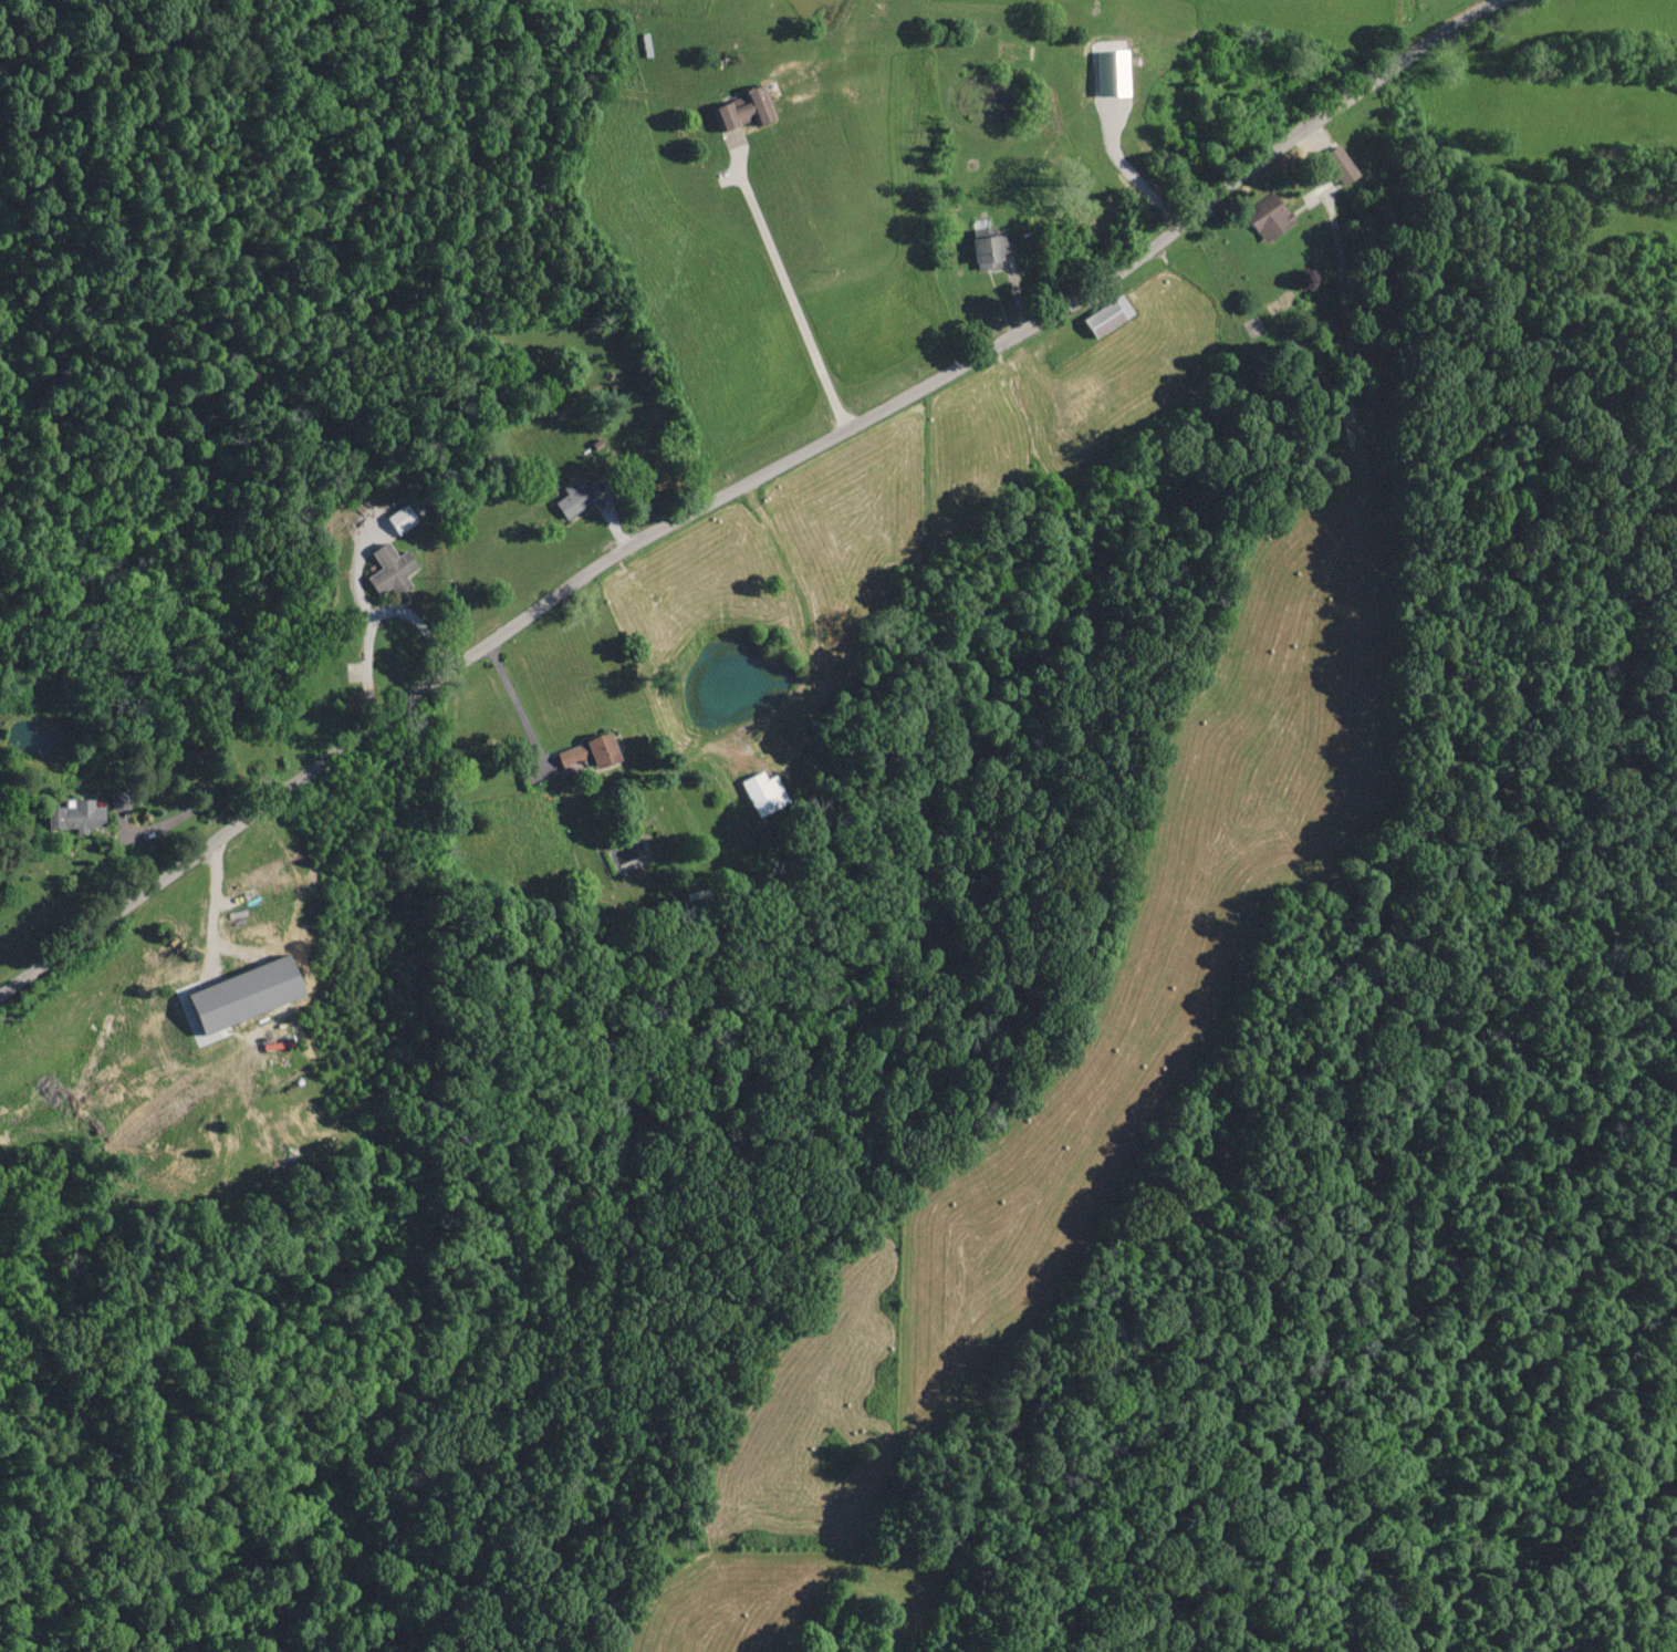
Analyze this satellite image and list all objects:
building: (1111, 77)
building: (742, 110)
building: (1268, 218)
building: (991, 251)
building: (1106, 318)
road: (742, 484)
building: (575, 498)
building: (400, 519)
building: (390, 571)
building: (585, 756)
building: (762, 793)
building: (74, 817)

